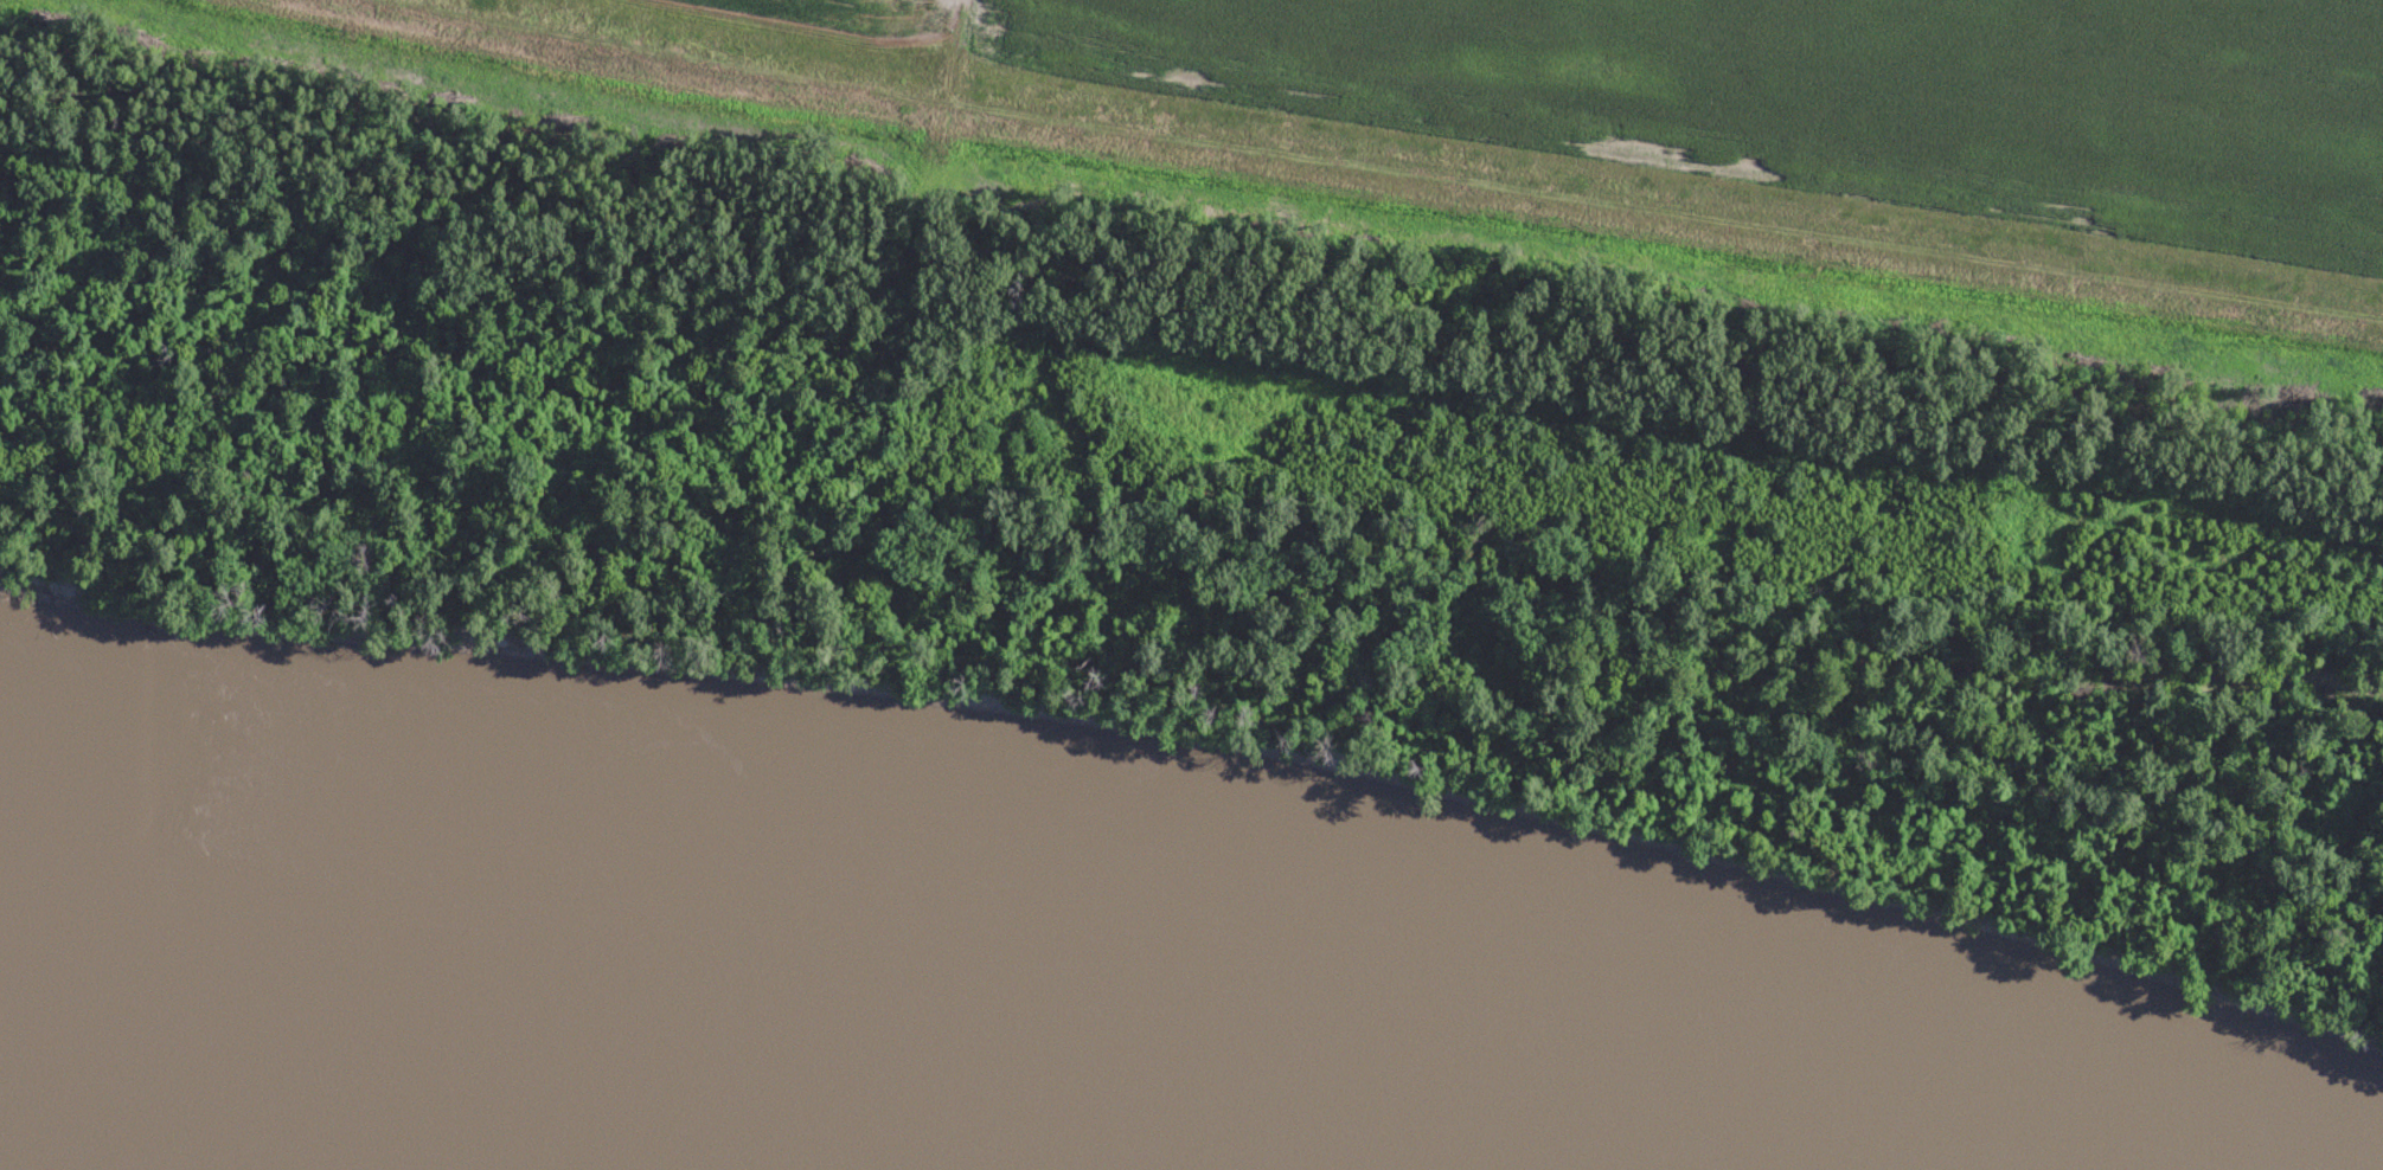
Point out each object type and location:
crop: (846, 18)
crop: (1830, 95)

